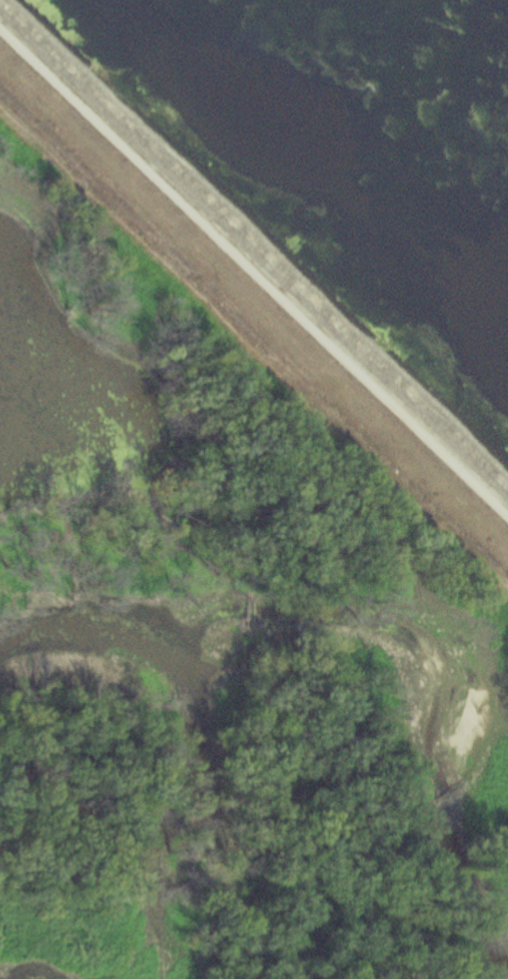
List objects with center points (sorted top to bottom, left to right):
dam: (254, 290)

